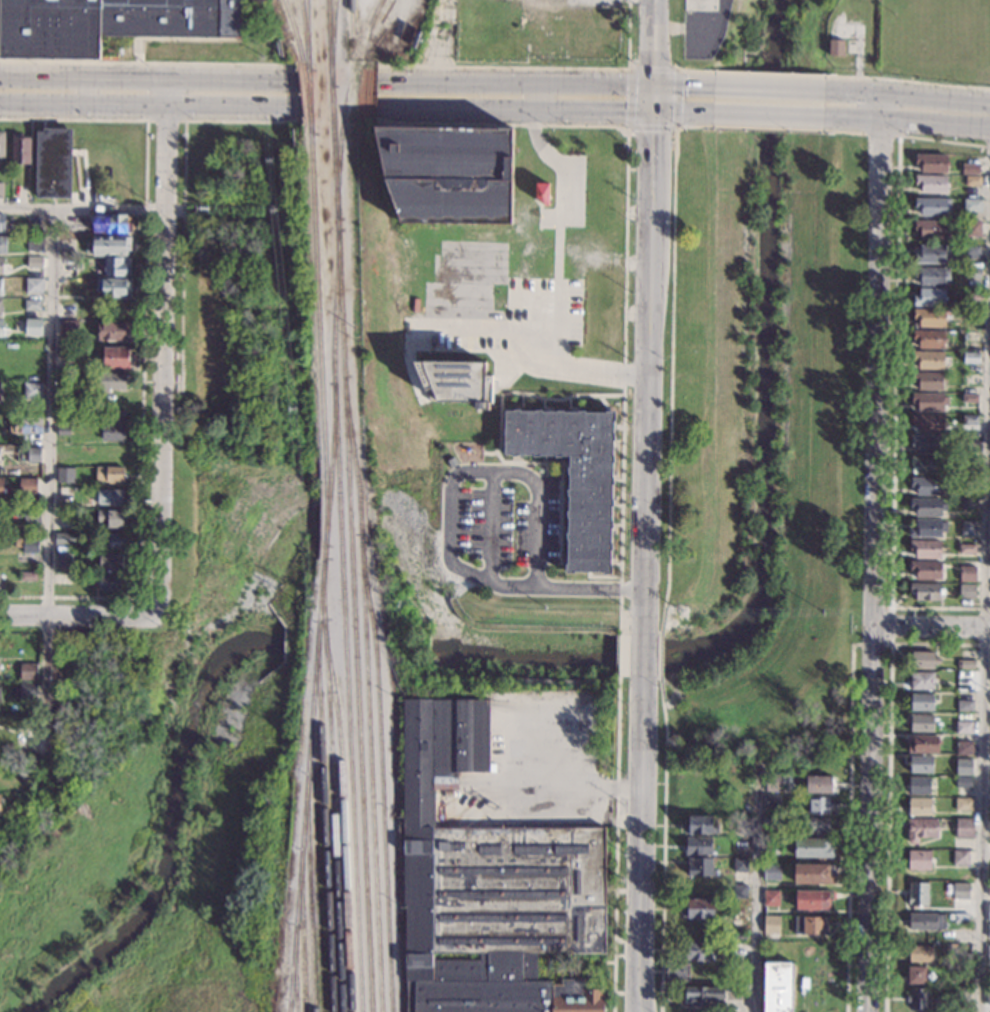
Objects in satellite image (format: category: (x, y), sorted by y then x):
building: (700, 5)
building: (449, 11)
railway: (349, 19)
building: (107, 23)
road: (699, 29)
railway: (368, 30)
railway: (294, 31)
railway: (328, 31)
railway: (304, 34)
railway: (332, 42)
road: (654, 43)
building: (836, 47)
road: (147, 63)
traffic signals: (654, 64)
railway: (307, 67)
road: (537, 67)
road: (676, 69)
road: (694, 71)
road: (768, 74)
road: (149, 80)
road: (907, 80)
road: (515, 84)
road: (685, 88)
traffic signals: (686, 88)
road: (770, 90)
railway: (346, 92)
road: (853, 92)
railway: (331, 93)
railway: (305, 98)
road: (925, 99)
road: (654, 100)
road: (883, 106)
road: (150, 110)
road: (515, 112)
traffic signals: (623, 114)
road: (684, 115)
road: (977, 115)
road: (769, 116)
road: (853, 117)
road: (165, 120)
road: (923, 120)
road: (768, 127)
road: (842, 130)
road: (880, 132)
traffic signals: (653, 133)
building: (2, 144)
building: (20, 149)
building: (930, 161)
building: (54, 163)
park: (192, 163)
building: (970, 169)
railway: (339, 172)
building: (448, 172)
railway: (334, 177)
building: (971, 180)
building: (930, 183)
building: (1, 190)
building: (543, 192)
road: (182, 198)
building: (971, 204)
building: (931, 205)
road: (84, 210)
building: (2, 223)
building: (110, 224)
building: (931, 227)
building: (972, 227)
road: (557, 231)
building: (34, 243)
building: (3, 245)
building: (110, 246)
building: (972, 251)
building: (931, 252)
road: (624, 256)
building: (34, 262)
building: (66, 265)
building: (0, 266)
building: (79, 266)
building: (117, 267)
building: (971, 271)
building: (931, 274)
building: (0, 285)
building: (33, 286)
building: (114, 288)
building: (949, 290)
building: (930, 297)
building: (0, 306)
building: (31, 306)
building: (67, 311)
building: (928, 317)
building: (32, 327)
building: (1, 328)
building: (68, 328)
building: (112, 330)
building: (928, 337)
road: (166, 348)
building: (3, 351)
road: (492, 353)
road: (143, 355)
road: (542, 357)
building: (969, 357)
building: (115, 358)
building: (928, 359)
road: (671, 362)
road: (648, 374)
road: (879, 374)
road: (894, 374)
building: (969, 378)
building: (928, 380)
building: (110, 382)
building: (459, 383)
building: (0, 390)
building: (31, 391)
road: (526, 393)
building: (969, 398)
building: (928, 401)
park: (238, 414)
building: (968, 420)
building: (928, 422)
building: (25, 426)
building: (114, 427)
building: (62, 431)
building: (928, 443)
building: (0, 446)
building: (64, 453)
building: (114, 454)
park: (762, 454)
building: (33, 455)
road: (530, 462)
building: (969, 462)
railway: (329, 464)
building: (928, 464)
building: (109, 474)
building: (65, 475)
building: (576, 477)
river: (762, 479)
building: (927, 485)
building: (969, 485)
building: (26, 486)
building: (1, 487)
road: (48, 495)
building: (108, 497)
building: (967, 504)
building: (926, 506)
road: (559, 512)
building: (29, 516)
building: (112, 518)
road: (449, 522)
parking lot: (483, 524)
road: (490, 525)
parking lot: (537, 525)
building: (927, 528)
building: (966, 528)
building: (64, 539)
building: (113, 541)
building: (30, 545)
building: (924, 548)
building: (966, 549)
building: (63, 560)
building: (110, 562)
building: (925, 570)
railway: (321, 573)
building: (967, 575)
building: (28, 577)
building: (110, 583)
building: (925, 591)
building: (965, 591)
road: (80, 614)
park: (484, 616)
railway: (344, 620)
railway: (354, 621)
road: (933, 630)
road: (986, 637)
road: (890, 644)
river: (355, 647)
road: (619, 655)
road: (660, 656)
road: (642, 657)
building: (923, 659)
building: (965, 663)
building: (28, 672)
building: (922, 680)
building: (0, 691)
building: (27, 691)
railway: (366, 694)
building: (921, 701)
building: (964, 705)
building: (921, 723)
building: (963, 727)
building: (923, 744)
building: (963, 747)
building: (920, 764)
building: (963, 766)
building: (20, 772)
railway: (379, 773)
road: (888, 778)
building: (963, 782)
building: (771, 783)
building: (817, 785)
building: (989, 785)
railway: (331, 786)
building: (919, 786)
building: (771, 801)
building: (0, 804)
building: (963, 804)
building: (989, 805)
building: (816, 806)
building: (918, 807)
railway: (342, 815)
railway: (322, 816)
park: (145, 820)
road: (870, 820)
building: (771, 823)
building: (697, 825)
building: (741, 825)
building: (816, 827)
road: (849, 828)
building: (989, 828)
building: (964, 829)
river: (170, 830)
building: (919, 830)
road: (640, 837)
road: (616, 844)
road: (662, 844)
building: (770, 846)
building: (697, 847)
building: (813, 848)
building: (989, 848)
building: (959, 859)
building: (917, 860)
building: (738, 865)
building: (698, 868)
building: (988, 869)
building: (770, 872)
building: (812, 874)
building: (487, 884)
building: (988, 891)
railway: (309, 892)
building: (737, 892)
building: (958, 892)
building: (916, 894)
building: (770, 898)
building: (811, 900)
road: (754, 905)
building: (696, 909)
building: (988, 912)
building: (959, 918)
building: (924, 922)
building: (769, 925)
building: (810, 926)
railway: (302, 930)
building: (987, 931)
building: (737, 938)
building: (950, 947)
building: (737, 950)
building: (696, 951)
building: (988, 952)
building: (918, 955)
railway: (295, 968)
building: (676, 972)
building: (915, 975)
building: (959, 975)
building: (776, 987)
building: (987, 996)
building: (701, 997)
building: (959, 998)
building: (916, 999)
road: (638, 1003)
railway: (289, 1006)

